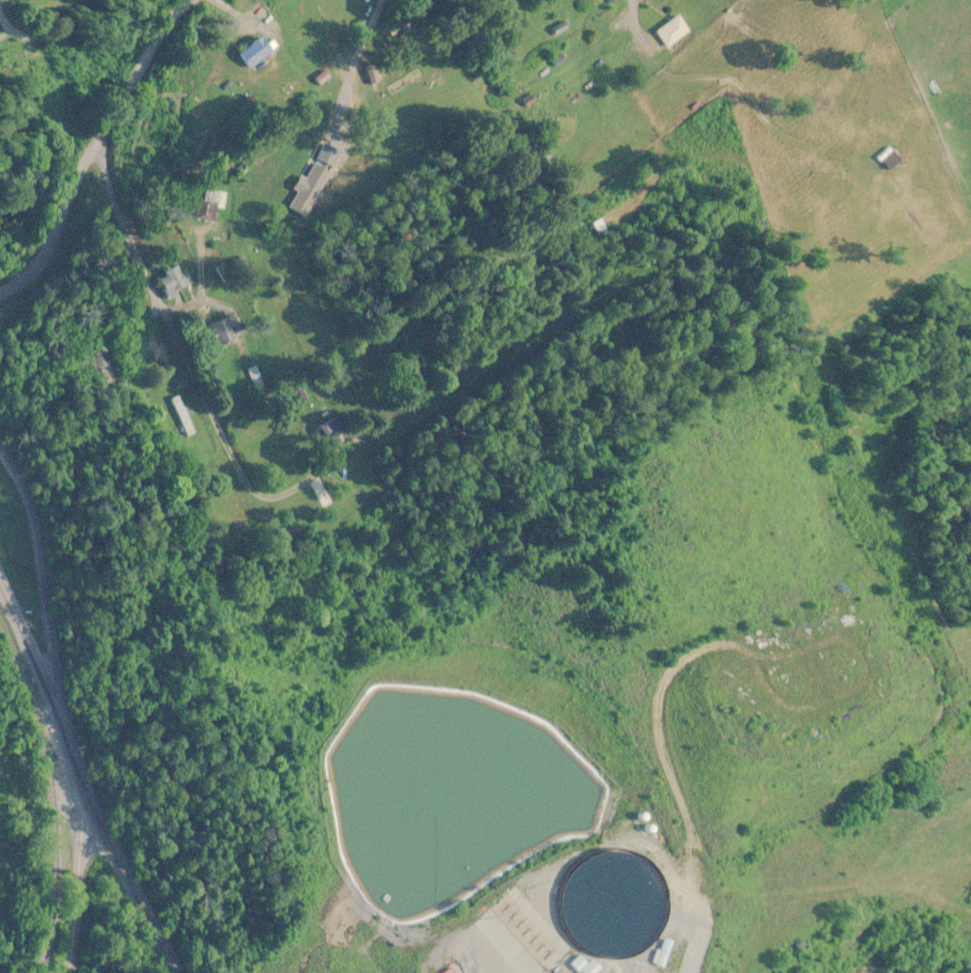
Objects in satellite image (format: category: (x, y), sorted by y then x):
road: (7, 0)
building: (672, 32)
building: (255, 52)
road: (569, 52)
road: (94, 149)
building: (891, 160)
building: (209, 205)
building: (173, 282)
road: (199, 293)
building: (224, 333)
road: (182, 356)
building: (181, 417)
building: (330, 431)
railway: (11, 652)
road: (36, 669)
road: (65, 702)
railway: (56, 823)
road: (132, 857)
building: (666, 953)

